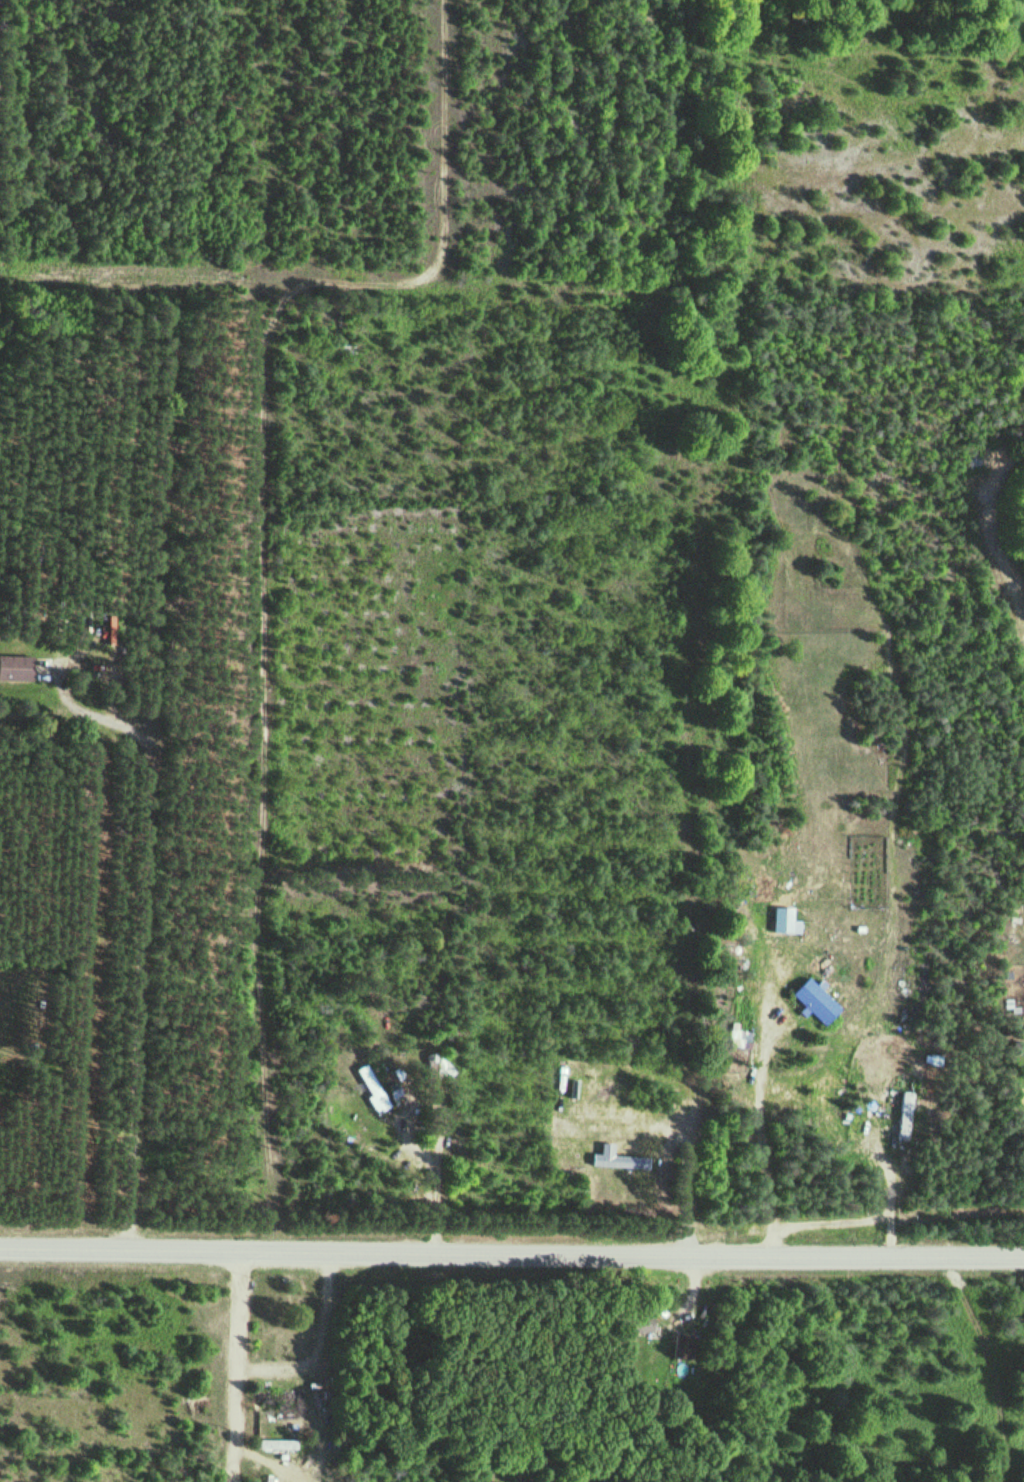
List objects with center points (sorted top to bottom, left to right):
road: (735, 159)
road: (353, 285)
building: (14, 667)
building: (761, 886)
road: (269, 912)
building: (814, 1000)
building: (629, 1042)
building: (430, 1074)
building: (370, 1087)
building: (618, 1161)
road: (627, 1196)
road: (511, 1255)
building: (637, 1322)
building: (682, 1347)
road: (247, 1368)
building: (319, 1392)
building: (279, 1396)
building: (275, 1444)
building: (609, 1477)

